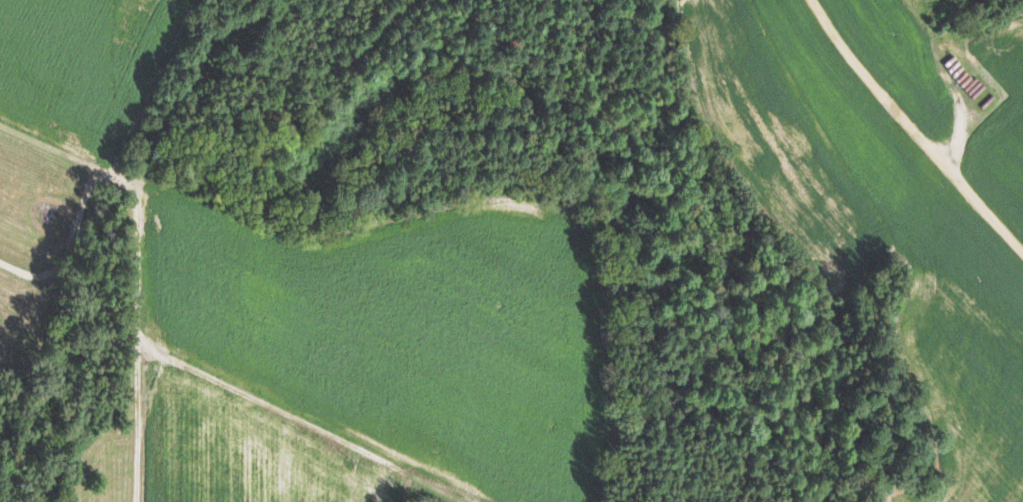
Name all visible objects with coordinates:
road: (913, 127)
road: (143, 246)

